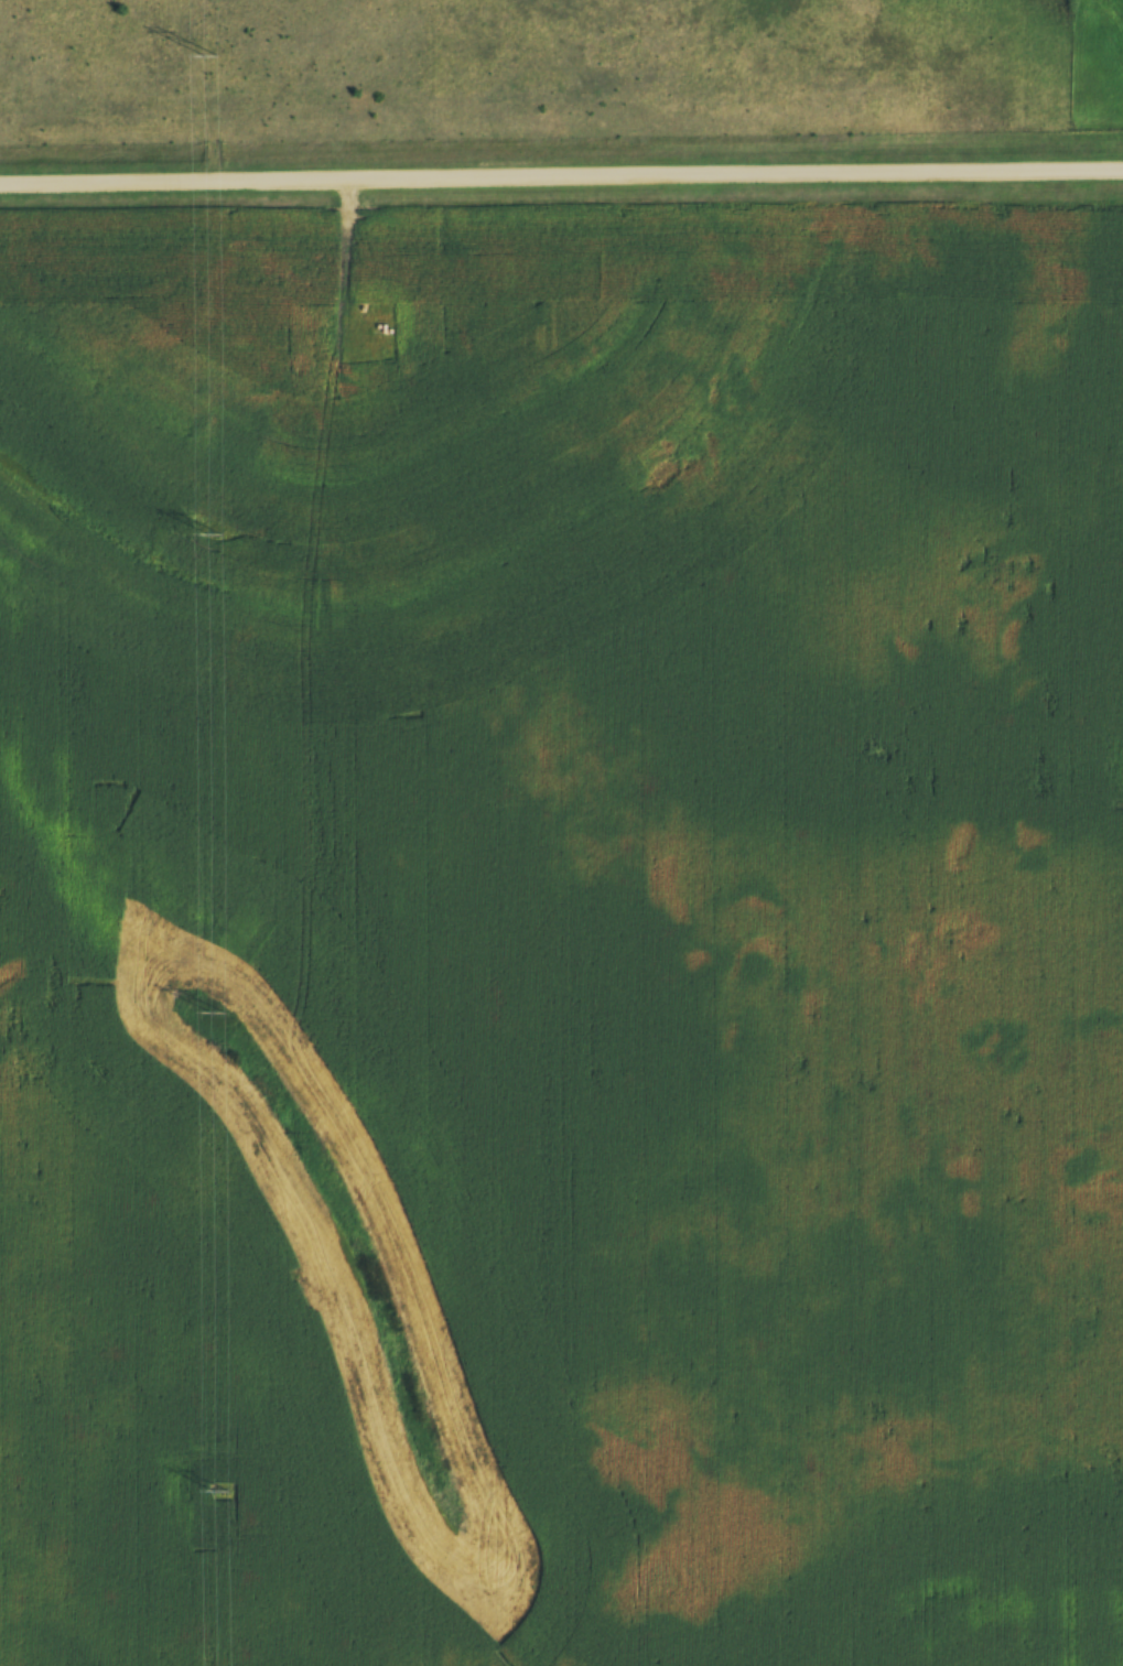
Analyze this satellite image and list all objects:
power tower: (209, 55)
road: (561, 178)
power tower: (215, 534)
power tower: (218, 1011)
power tower: (218, 1484)

